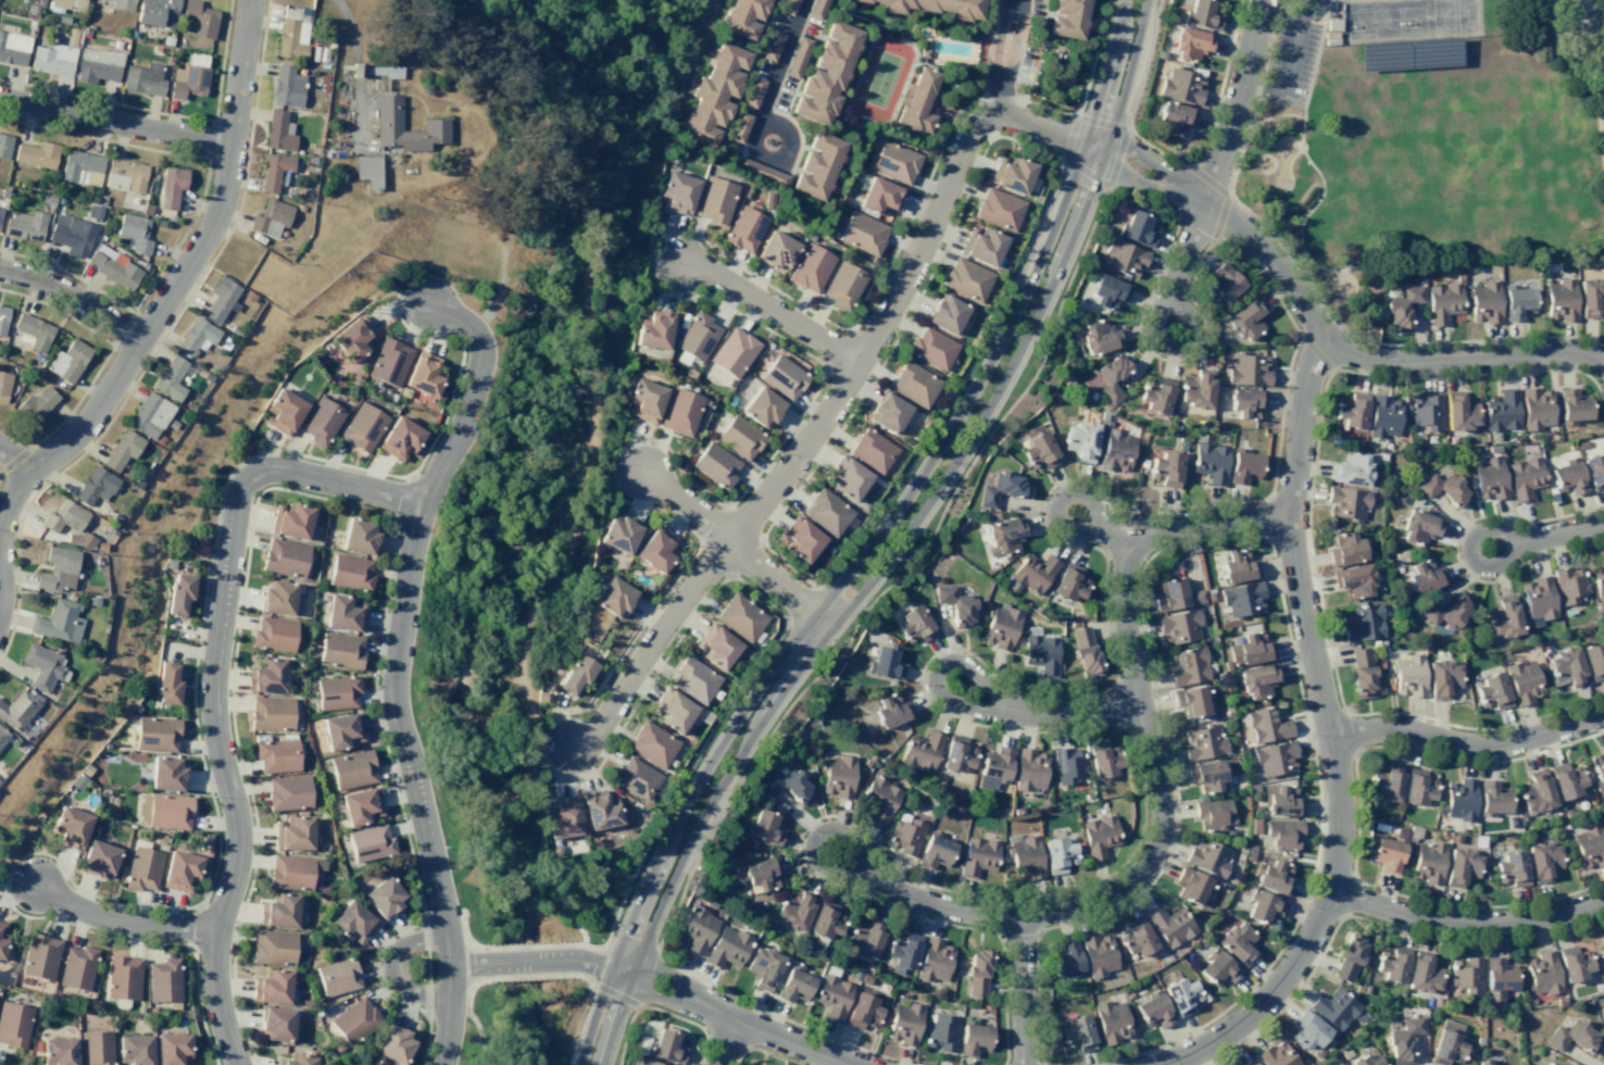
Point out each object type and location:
building: (70, 4)
building: (123, 4)
building: (788, 7)
building: (935, 7)
building: (817, 9)
building: (156, 12)
building: (1201, 14)
building: (743, 17)
building: (199, 18)
building: (1068, 18)
building: (292, 38)
building: (1191, 43)
building: (772, 46)
parking lot: (1294, 47)
building: (13, 48)
building: (1162, 54)
road: (1002, 55)
building: (797, 57)
building: (52, 60)
building: (97, 65)
road: (1288, 65)
building: (372, 70)
road: (777, 70)
building: (826, 74)
building: (143, 79)
building: (187, 82)
road: (1220, 85)
building: (1181, 86)
building: (287, 87)
building: (753, 92)
building: (714, 93)
road: (1132, 100)
building: (918, 102)
road: (1237, 103)
road: (1274, 115)
building: (1176, 117)
road: (115, 120)
building: (389, 125)
road: (1601, 126)
building: (739, 127)
building: (278, 131)
road: (969, 137)
building: (4, 146)
building: (36, 154)
park: (1429, 156)
building: (894, 162)
road: (1072, 163)
building: (817, 166)
building: (82, 167)
building: (274, 171)
building: (368, 172)
building: (1012, 174)
building: (126, 175)
building: (171, 186)
building: (678, 192)
road: (1229, 193)
road: (1227, 195)
building: (880, 196)
road: (1318, 197)
building: (715, 200)
building: (999, 209)
building: (0, 212)
building: (271, 217)
building: (25, 226)
building: (1138, 228)
building: (744, 229)
building: (135, 231)
building: (863, 233)
building: (72, 235)
road: (1188, 243)
building: (981, 246)
building: (777, 251)
building: (1123, 258)
building: (113, 266)
building: (811, 267)
building: (967, 279)
building: (1224, 283)
building: (843, 285)
building: (1108, 291)
building: (1591, 297)
road: (75, 298)
building: (221, 299)
road: (1164, 299)
building: (1561, 300)
building: (1517, 301)
building: (1443, 302)
building: (1484, 302)
building: (1401, 304)
road: (769, 306)
building: (947, 314)
building: (3, 318)
road: (158, 318)
building: (1246, 319)
building: (654, 330)
building: (34, 331)
building: (1100, 336)
building: (197, 337)
building: (354, 338)
road: (1484, 340)
building: (932, 348)
building: (734, 352)
building: (67, 361)
building: (390, 361)
road: (591, 368)
building: (1249, 369)
building: (426, 374)
building: (784, 377)
building: (1111, 377)
building: (171, 378)
building: (914, 384)
road: (961, 385)
building: (3, 386)
building: (1196, 390)
building: (1156, 396)
building: (644, 401)
building: (1246, 402)
building: (37, 403)
building: (1572, 405)
building: (762, 408)
building: (1536, 409)
building: (1352, 410)
building: (1502, 411)
building: (284, 412)
building: (680, 412)
building: (888, 412)
building: (1426, 412)
building: (1459, 412)
building: (150, 415)
building: (1383, 416)
building: (322, 421)
building: (364, 426)
building: (740, 437)
building: (401, 438)
building: (1080, 440)
building: (122, 449)
building: (873, 450)
building: (1040, 451)
building: (1116, 451)
road: (311, 456)
road: (14, 458)
building: (1211, 462)
building: (716, 465)
building: (1244, 466)
building: (1166, 468)
building: (1351, 468)
building: (1594, 469)
building: (1525, 477)
building: (848, 478)
building: (1489, 478)
building: (1567, 478)
building: (96, 486)
building: (1443, 488)
building: (1001, 489)
road: (337, 501)
building: (1346, 502)
road: (685, 503)
building: (826, 512)
building: (65, 517)
building: (292, 521)
building: (1418, 527)
road: (1103, 529)
park: (460, 530)
building: (619, 535)
building: (1004, 535)
road: (1547, 536)
building: (361, 537)
building: (79, 539)
building: (800, 539)
road: (874, 543)
road: (897, 544)
building: (655, 549)
building: (1345, 549)
road: (920, 555)
building: (285, 557)
building: (171, 563)
building: (1236, 566)
building: (59, 569)
building: (351, 572)
building: (1033, 573)
building: (1425, 576)
building: (1354, 580)
building: (1069, 582)
road: (779, 584)
building: (1599, 584)
building: (1569, 585)
building: (180, 592)
building: (1171, 594)
building: (278, 596)
building: (614, 597)
building: (1198, 597)
building: (1538, 598)
building: (1242, 600)
building: (955, 605)
road: (801, 607)
building: (346, 612)
building: (1445, 612)
building: (740, 617)
building: (1503, 617)
building: (59, 622)
building: (1364, 623)
building: (915, 626)
building: (1001, 626)
building: (1179, 626)
building: (275, 634)
building: (716, 646)
building: (1249, 649)
building: (342, 650)
building: (1085, 652)
building: (1041, 653)
building: (1594, 660)
building: (885, 663)
building: (42, 665)
road: (396, 666)
building: (1189, 667)
building: (1566, 668)
building: (1362, 673)
building: (577, 674)
building: (267, 675)
building: (1408, 675)
building: (1442, 678)
building: (694, 679)
building: (1257, 680)
road: (212, 681)
building: (1522, 681)
building: (167, 682)
building: (1492, 691)
building: (338, 692)
building: (1190, 701)
building: (18, 709)
building: (674, 710)
road: (1041, 710)
building: (891, 711)
building: (272, 712)
building: (1267, 725)
building: (343, 730)
building: (156, 734)
building: (2, 736)
road: (1331, 736)
building: (1203, 743)
building: (652, 744)
road: (1468, 744)
road: (550, 749)
building: (922, 751)
building: (957, 754)
building: (278, 755)
building: (1275, 759)
building: (1103, 760)
building: (1068, 765)
building: (994, 767)
building: (353, 768)
building: (1597, 768)
building: (1030, 769)
building: (167, 773)
building: (1206, 775)
building: (838, 776)
building: (637, 777)
building: (1567, 780)
building: (1386, 784)
building: (788, 786)
building: (1418, 787)
building: (290, 791)
building: (104, 792)
building: (1536, 792)
road: (1161, 795)
building: (1492, 798)
building: (880, 799)
building: (1281, 800)
building: (1461, 800)
building: (362, 805)
building: (166, 810)
building: (600, 810)
building: (1213, 814)
building: (564, 818)
building: (1603, 824)
building: (72, 827)
building: (764, 827)
building: (295, 834)
building: (1283, 834)
building: (906, 835)
building: (1099, 836)
building: (161, 839)
road: (650, 840)
building: (372, 843)
building: (1589, 845)
road: (543, 852)
building: (936, 852)
building: (1388, 854)
building: (1058, 855)
building: (978, 856)
building: (1208, 856)
building: (1026, 857)
building: (99, 860)
building: (1543, 860)
building: (1428, 862)
building: (1462, 866)
building: (143, 868)
building: (1512, 868)
road: (589, 869)
building: (181, 870)
building: (291, 873)
building: (762, 873)
building: (1274, 876)
building: (1192, 886)
building: (386, 897)
building: (1263, 907)
building: (279, 911)
building: (794, 911)
building: (826, 920)
road: (1374, 920)
road: (123, 922)
road: (1465, 922)
building: (353, 923)
building: (2, 924)
building: (1171, 926)
road: (426, 928)
building: (697, 928)
building: (1603, 936)
building: (1137, 938)
building: (864, 940)
building: (1237, 942)
building: (2, 943)
building: (274, 945)
building: (727, 948)
building: (903, 950)
building: (1099, 954)
building: (1602, 954)
building: (40, 956)
building: (1351, 956)
building: (1066, 960)
building: (933, 961)
building: (1393, 963)
building: (1574, 964)
road: (428, 966)
building: (78, 967)
building: (764, 967)
road: (391, 968)
building: (1218, 969)
building: (977, 973)
building: (1425, 973)
building: (1468, 974)
building: (1543, 974)
building: (123, 976)
building: (339, 976)
road: (524, 976)
building: (1500, 977)
building: (165, 979)
road: (654, 985)
building: (273, 986)
building: (794, 986)
building: (1358, 988)
road: (1019, 989)
building: (1367, 989)
building: (832, 995)
building: (1181, 995)
road: (624, 998)
building: (1429, 1001)
building: (306, 1002)
building: (174, 1004)
road: (429, 1004)
building: (1334, 1008)
building: (153, 1011)
building: (1153, 1011)
building: (863, 1012)
building: (1603, 1012)
building: (1602, 1018)
building: (356, 1019)
building: (1112, 1022)
building: (14, 1023)
building: (278, 1023)
building: (904, 1024)
building: (1309, 1029)
road: (478, 1030)
building: (941, 1032)
building: (1078, 1033)
road: (626, 1035)
building: (1575, 1037)
building: (974, 1038)
building: (1404, 1040)
road: (724, 1042)
building: (397, 1043)
building: (1449, 1043)
building: (38, 1045)
building: (667, 1045)
building: (338, 1047)
building: (97, 1048)
building: (136, 1049)
building: (174, 1049)
building: (59, 1051)
building: (1346, 1053)
building: (1278, 1055)
building: (299, 1060)
building: (1367, 1061)
building: (648, 1062)
building: (1251, 1062)
building: (1488, 1062)
building: (1337, 1063)
building: (1553, 1063)

